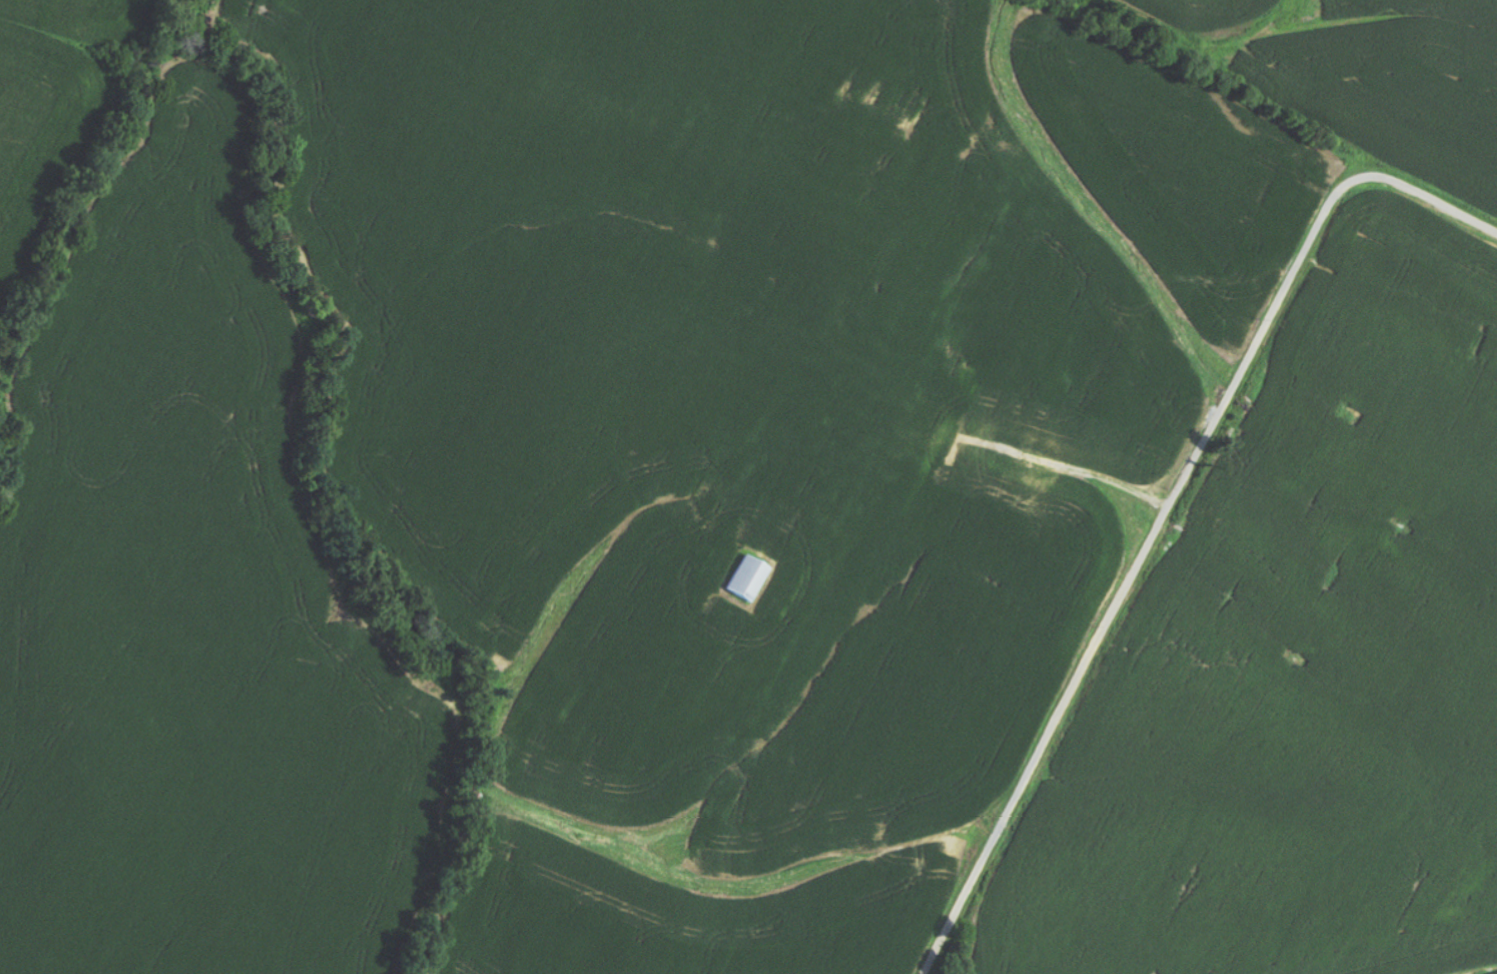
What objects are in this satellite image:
road: (1172, 507)
building: (751, 578)

